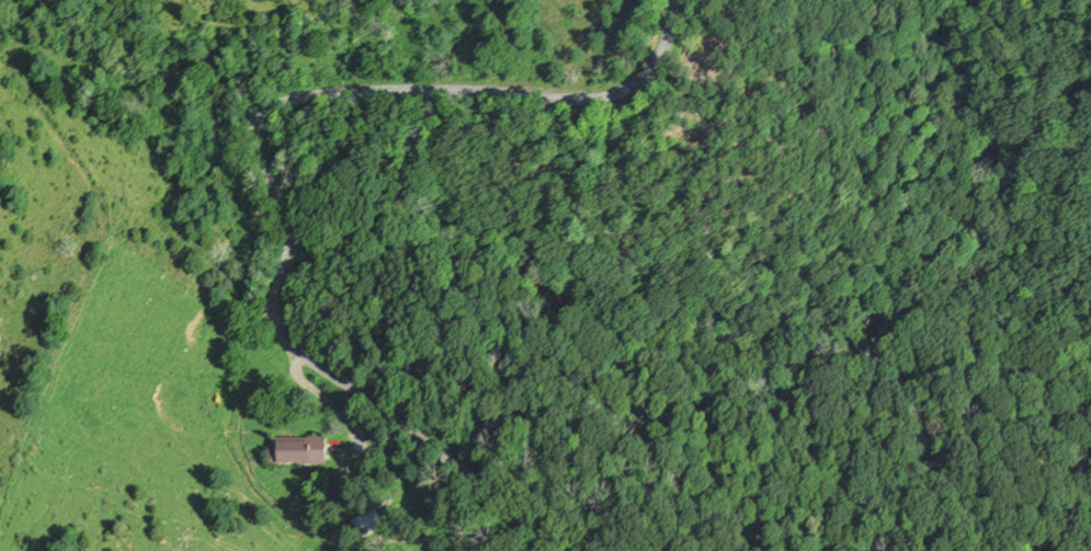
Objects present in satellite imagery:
road: (272, 163)
building: (300, 452)
building: (364, 519)

